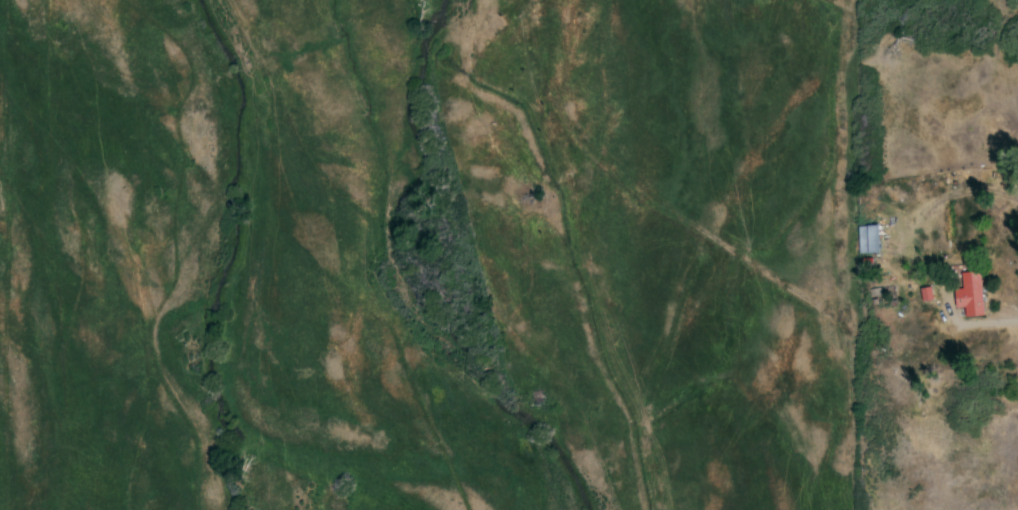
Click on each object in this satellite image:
building: (867, 241)
building: (977, 297)
road: (1014, 318)

